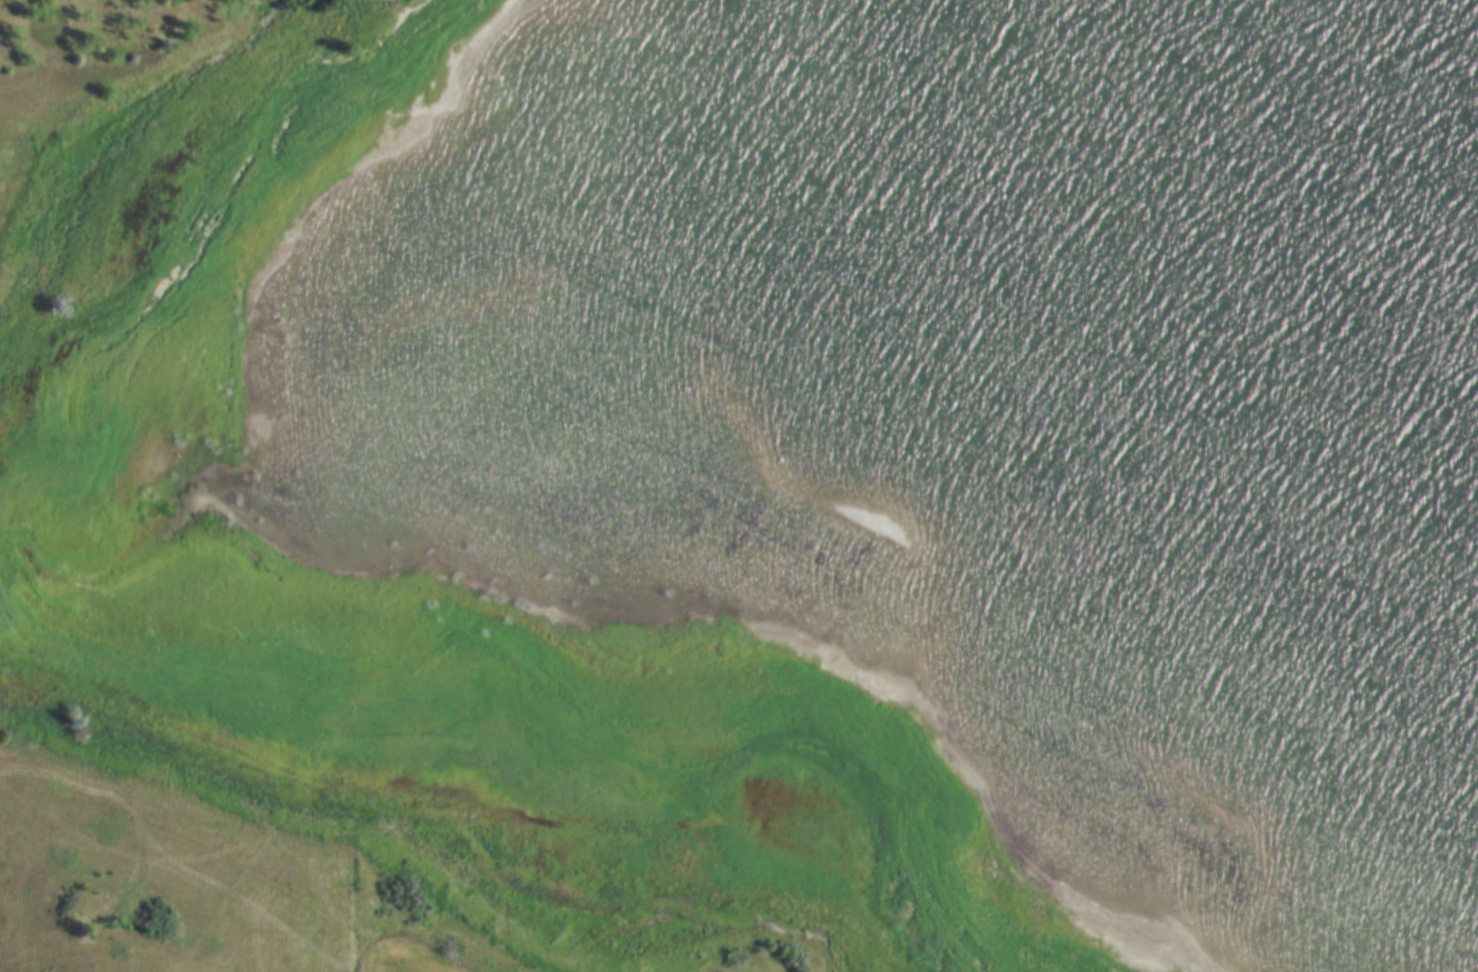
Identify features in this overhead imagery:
road: (461, 801)

